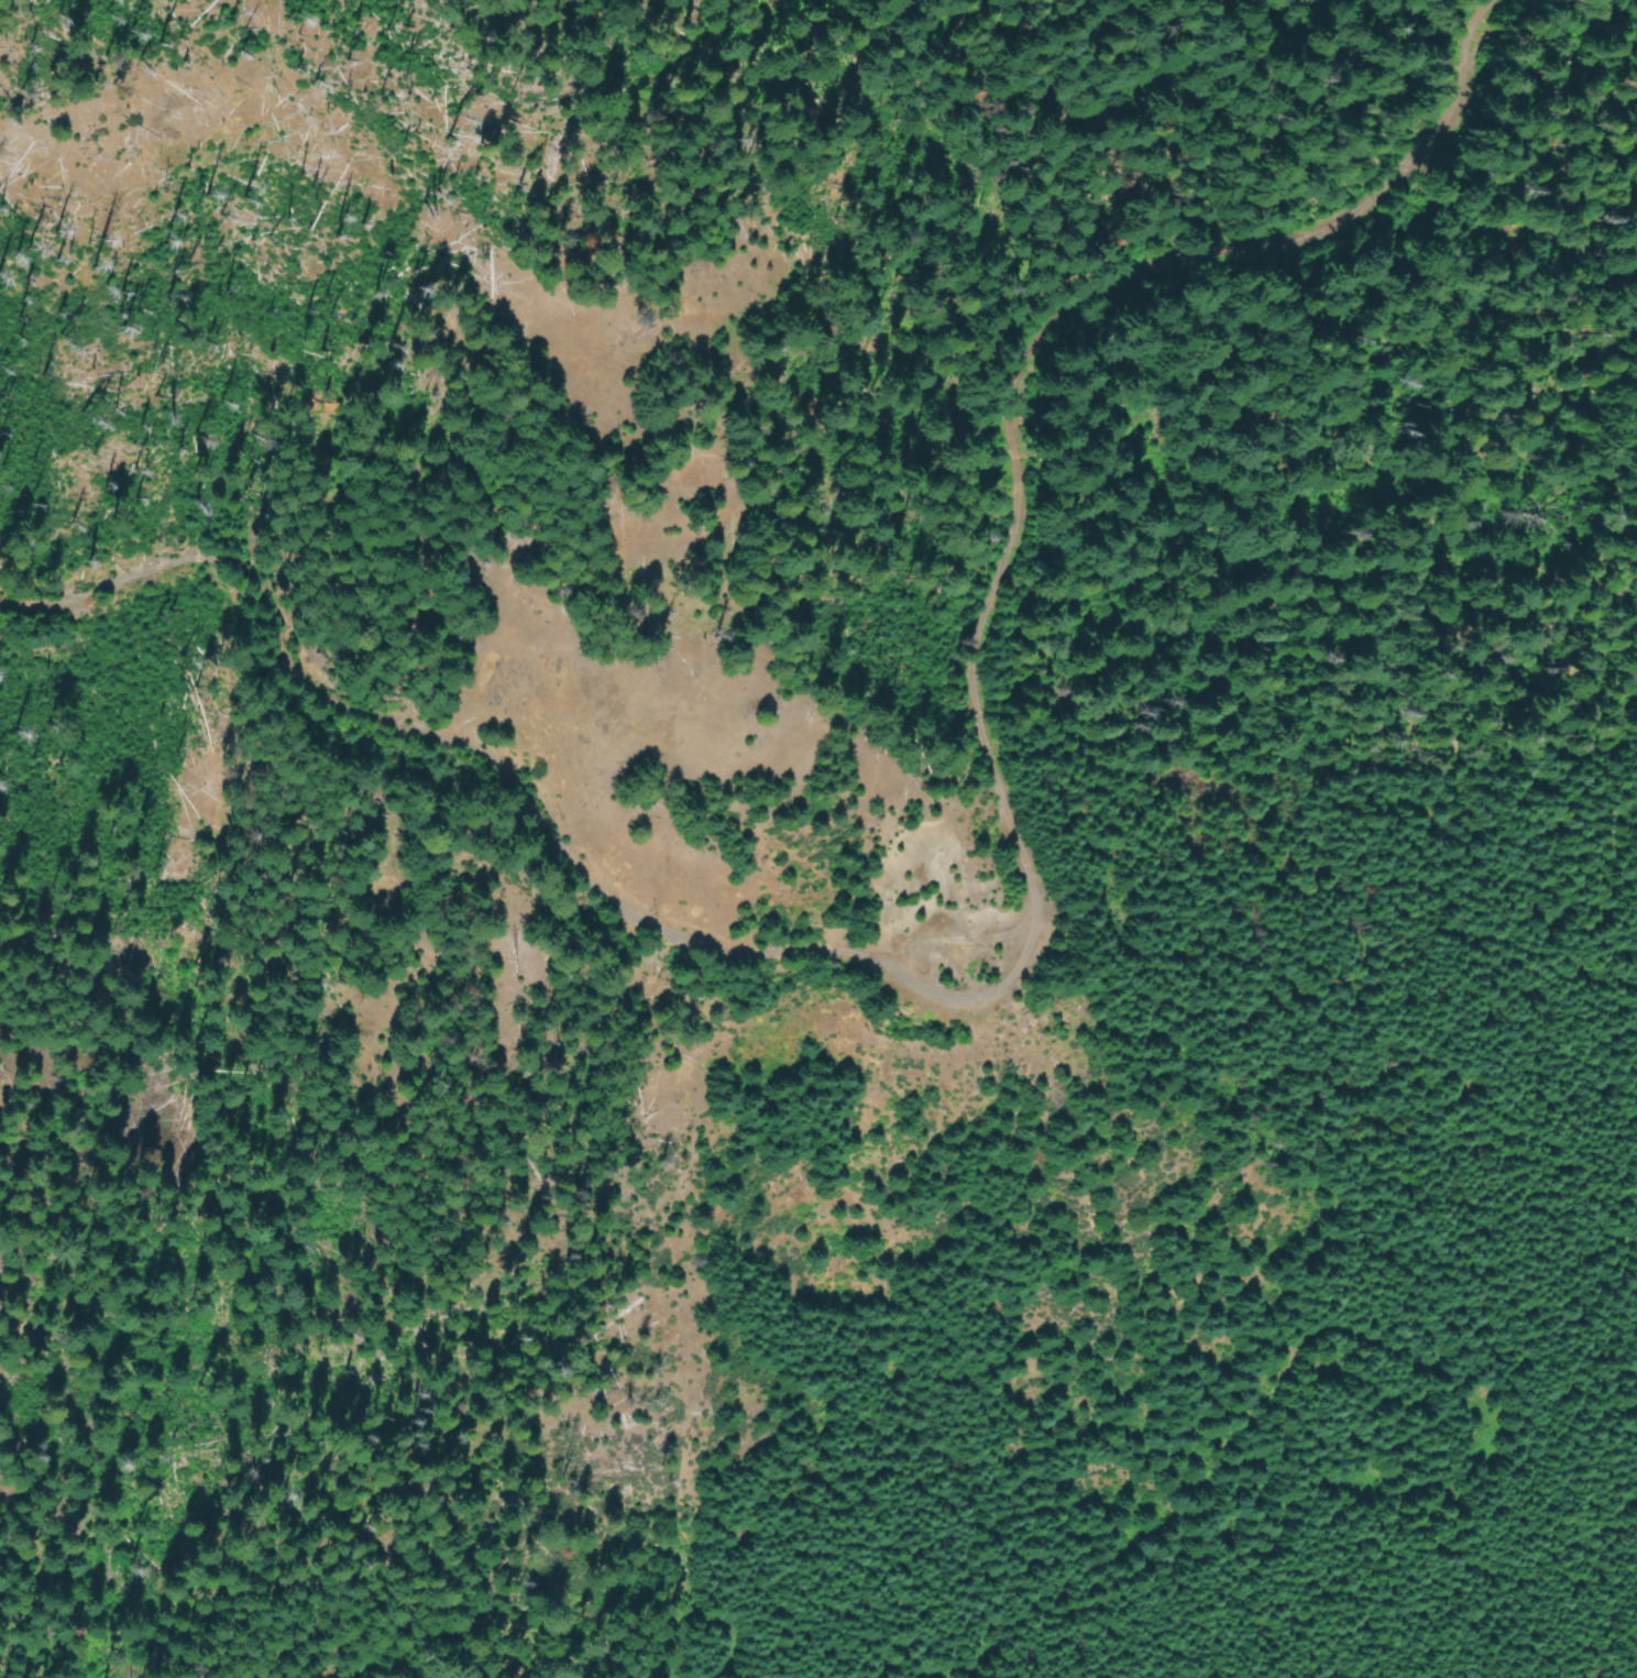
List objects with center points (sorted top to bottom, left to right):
road: (1020, 940)

